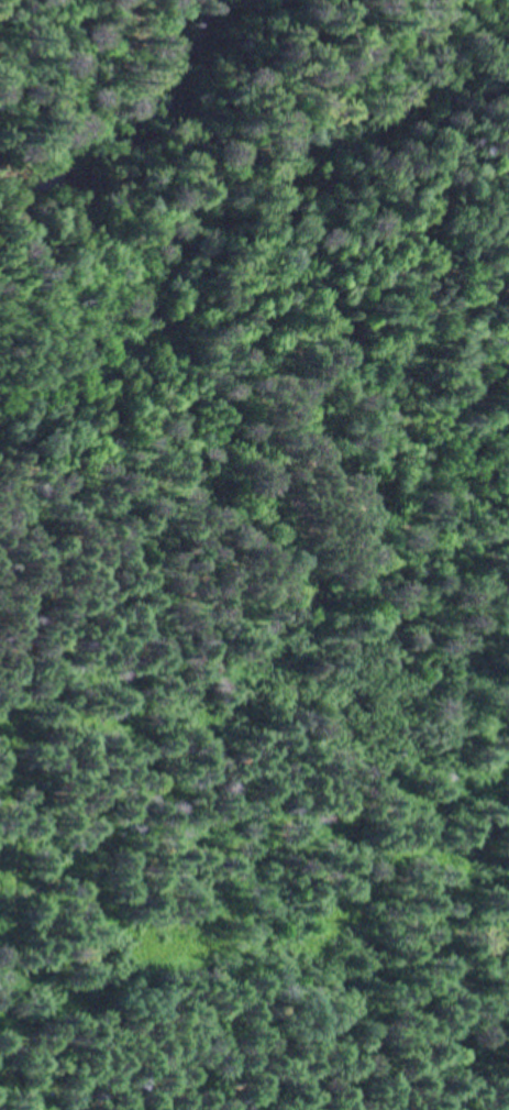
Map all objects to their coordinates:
building: (76, 1109)

